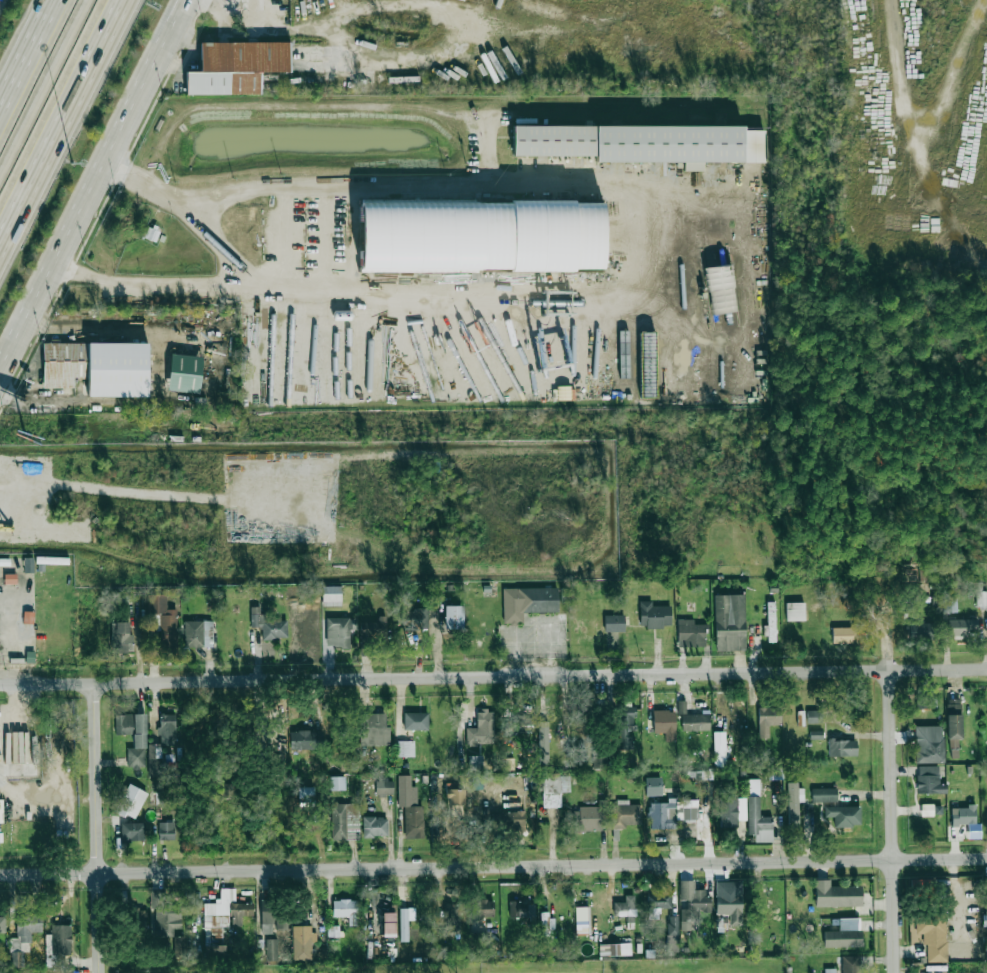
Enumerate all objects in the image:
road: (181, 21)
road: (184, 21)
road: (22, 43)
building: (235, 67)
road: (45, 91)
road: (62, 125)
building: (643, 143)
road: (379, 188)
road: (100, 189)
road: (161, 190)
building: (481, 236)
building: (715, 261)
road: (400, 284)
building: (720, 287)
road: (12, 354)
building: (626, 356)
road: (12, 358)
building: (647, 364)
building: (97, 367)
building: (184, 373)
building: (28, 565)
building: (331, 596)
building: (981, 598)
building: (528, 602)
building: (949, 605)
building: (795, 611)
building: (654, 615)
building: (453, 617)
building: (416, 618)
building: (162, 622)
building: (729, 622)
building: (771, 622)
building: (614, 623)
building: (268, 625)
building: (962, 627)
building: (373, 630)
building: (339, 631)
building: (920, 631)
building: (198, 633)
building: (691, 633)
building: (842, 635)
building: (121, 638)
road: (493, 674)
building: (926, 703)
building: (814, 716)
building: (954, 718)
building: (692, 719)
building: (767, 720)
building: (415, 721)
building: (664, 724)
building: (518, 725)
building: (625, 726)
building: (482, 728)
building: (376, 730)
building: (815, 734)
building: (133, 738)
building: (304, 740)
building: (161, 743)
building: (929, 744)
building: (842, 748)
building: (405, 749)
building: (718, 757)
building: (475, 763)
building: (507, 764)
building: (773, 773)
building: (929, 780)
building: (477, 781)
building: (337, 783)
building: (384, 786)
building: (554, 789)
building: (227, 790)
building: (824, 795)
road: (894, 795)
building: (305, 796)
building: (455, 796)
building: (130, 802)
building: (794, 804)
building: (410, 808)
building: (930, 810)
building: (671, 811)
building: (732, 811)
building: (625, 814)
building: (844, 815)
building: (986, 816)
building: (586, 819)
building: (513, 820)
building: (966, 820)
building: (338, 821)
building: (758, 822)
road: (101, 826)
building: (374, 826)
building: (132, 831)
building: (166, 831)
road: (493, 866)
building: (837, 895)
building: (985, 900)
building: (659, 901)
building: (729, 901)
building: (691, 903)
building: (625, 908)
building: (480, 909)
building: (521, 909)
building: (345, 910)
building: (165, 913)
building: (581, 913)
building: (137, 916)
building: (267, 917)
building: (450, 917)
building: (222, 920)
building: (388, 922)
building: (405, 922)
building: (546, 923)
building: (2, 924)
building: (333, 930)
building: (672, 933)
building: (844, 934)
building: (933, 936)
building: (23, 937)
building: (302, 942)
building: (57, 945)
building: (179, 945)
building: (272, 949)
building: (615, 949)
building: (851, 964)

